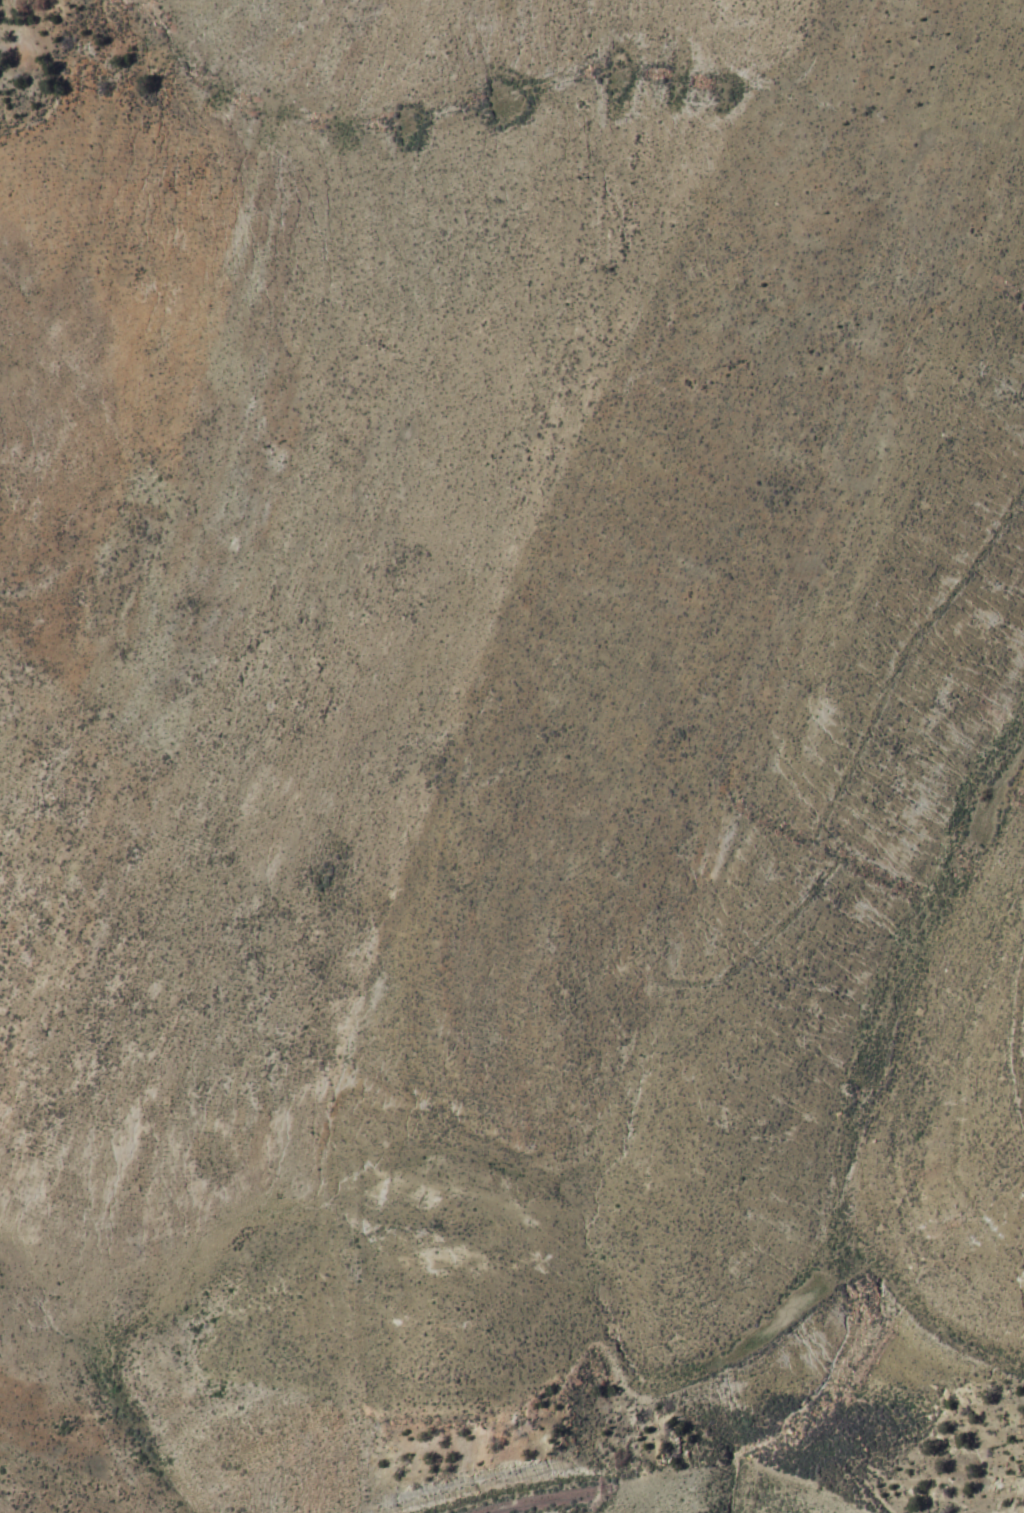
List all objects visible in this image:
railway: (638, 1490)

